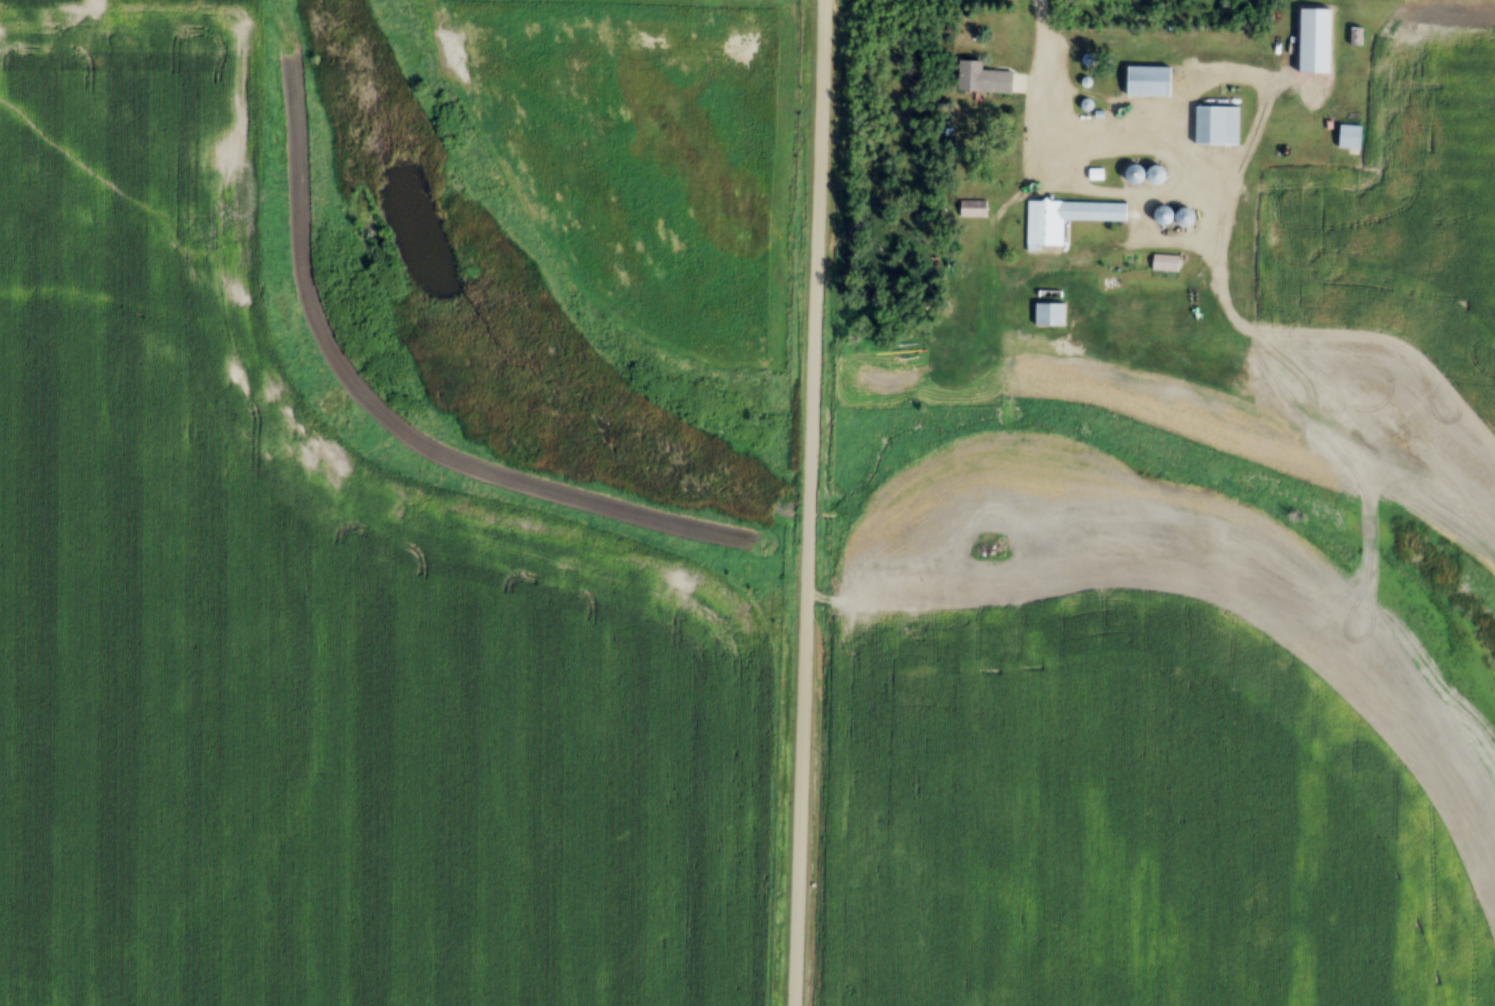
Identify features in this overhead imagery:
building: (1354, 36)
building: (979, 78)
building: (1145, 82)
road: (1051, 123)
building: (1214, 126)
building: (1346, 137)
building: (1150, 174)
building: (972, 209)
building: (1064, 219)
building: (1163, 264)
road: (815, 267)
building: (1047, 315)
road: (801, 770)

